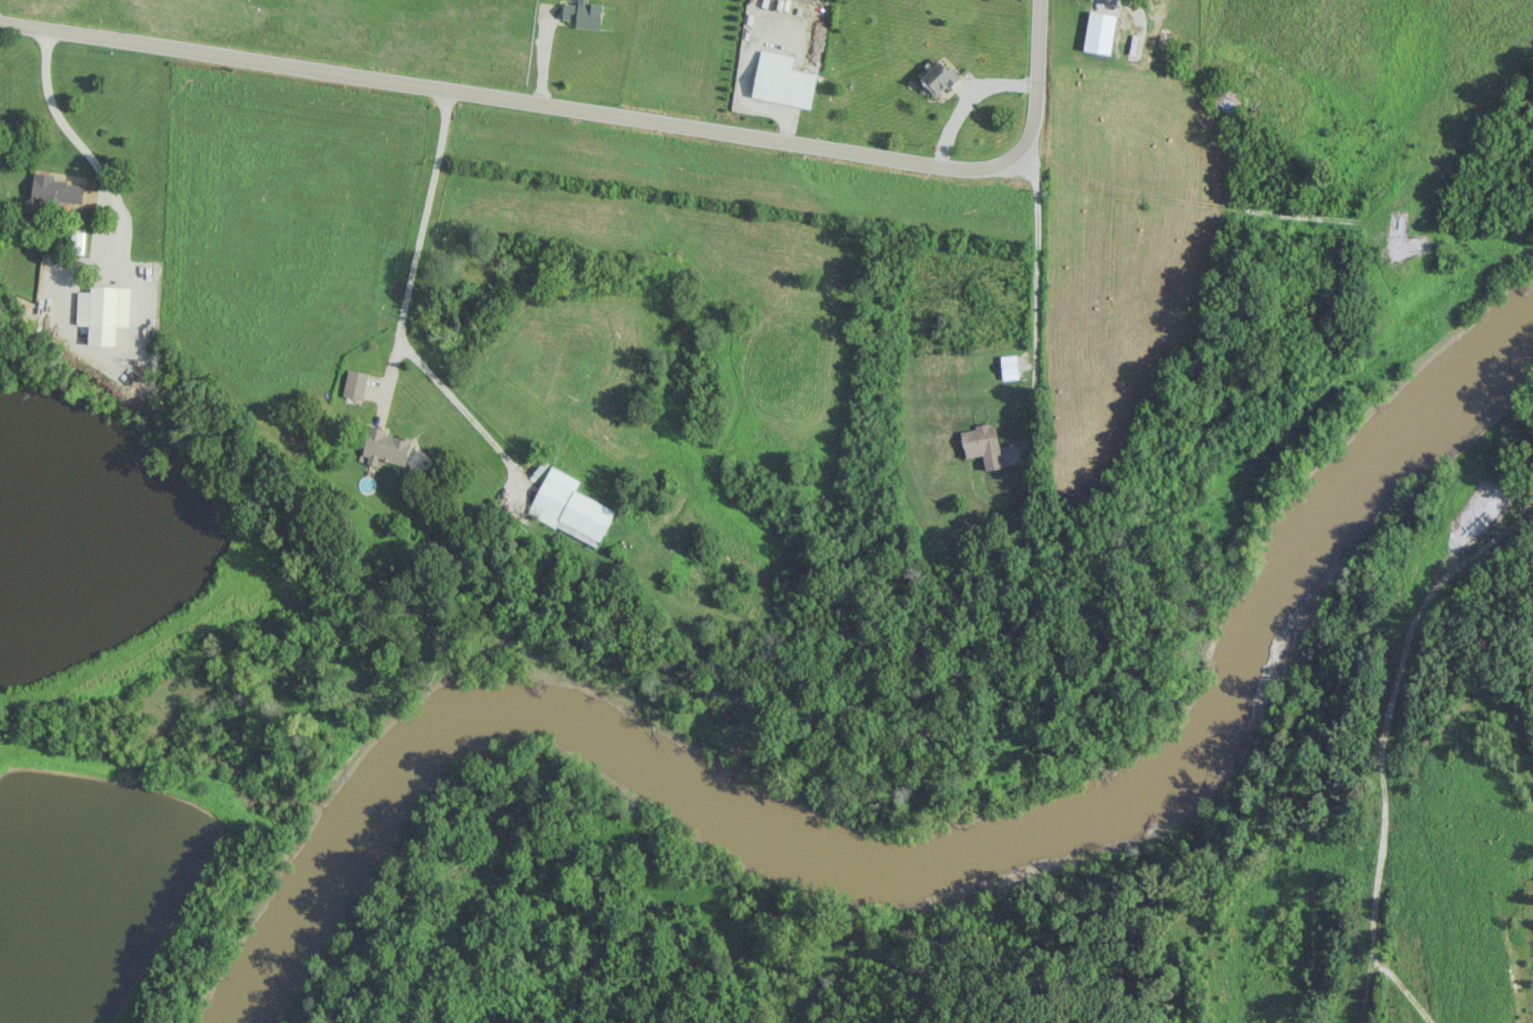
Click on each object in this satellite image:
road: (1139, 2)
building: (1093, 11)
building: (583, 14)
building: (1162, 45)
road: (543, 57)
building: (938, 78)
road: (745, 80)
building: (782, 80)
road: (966, 99)
road: (588, 113)
building: (54, 188)
road: (420, 233)
building: (76, 242)
road: (128, 267)
road: (1036, 299)
building: (103, 312)
building: (1008, 367)
building: (354, 386)
building: (982, 444)
building: (386, 447)
building: (570, 507)
road: (1454, 922)
road: (1214, 978)

